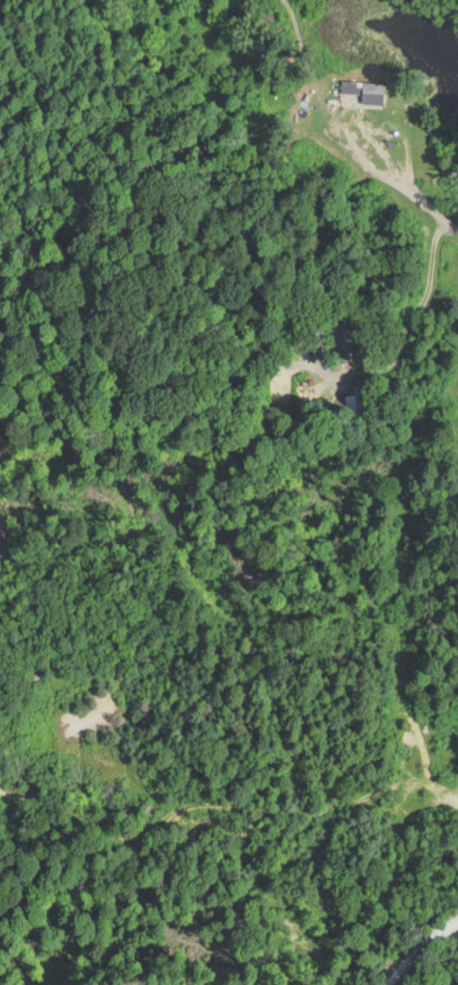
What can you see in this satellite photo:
building: (366, 89)
road: (404, 172)
building: (264, 281)
road: (428, 286)
building: (347, 330)
building: (358, 398)
road: (417, 947)

